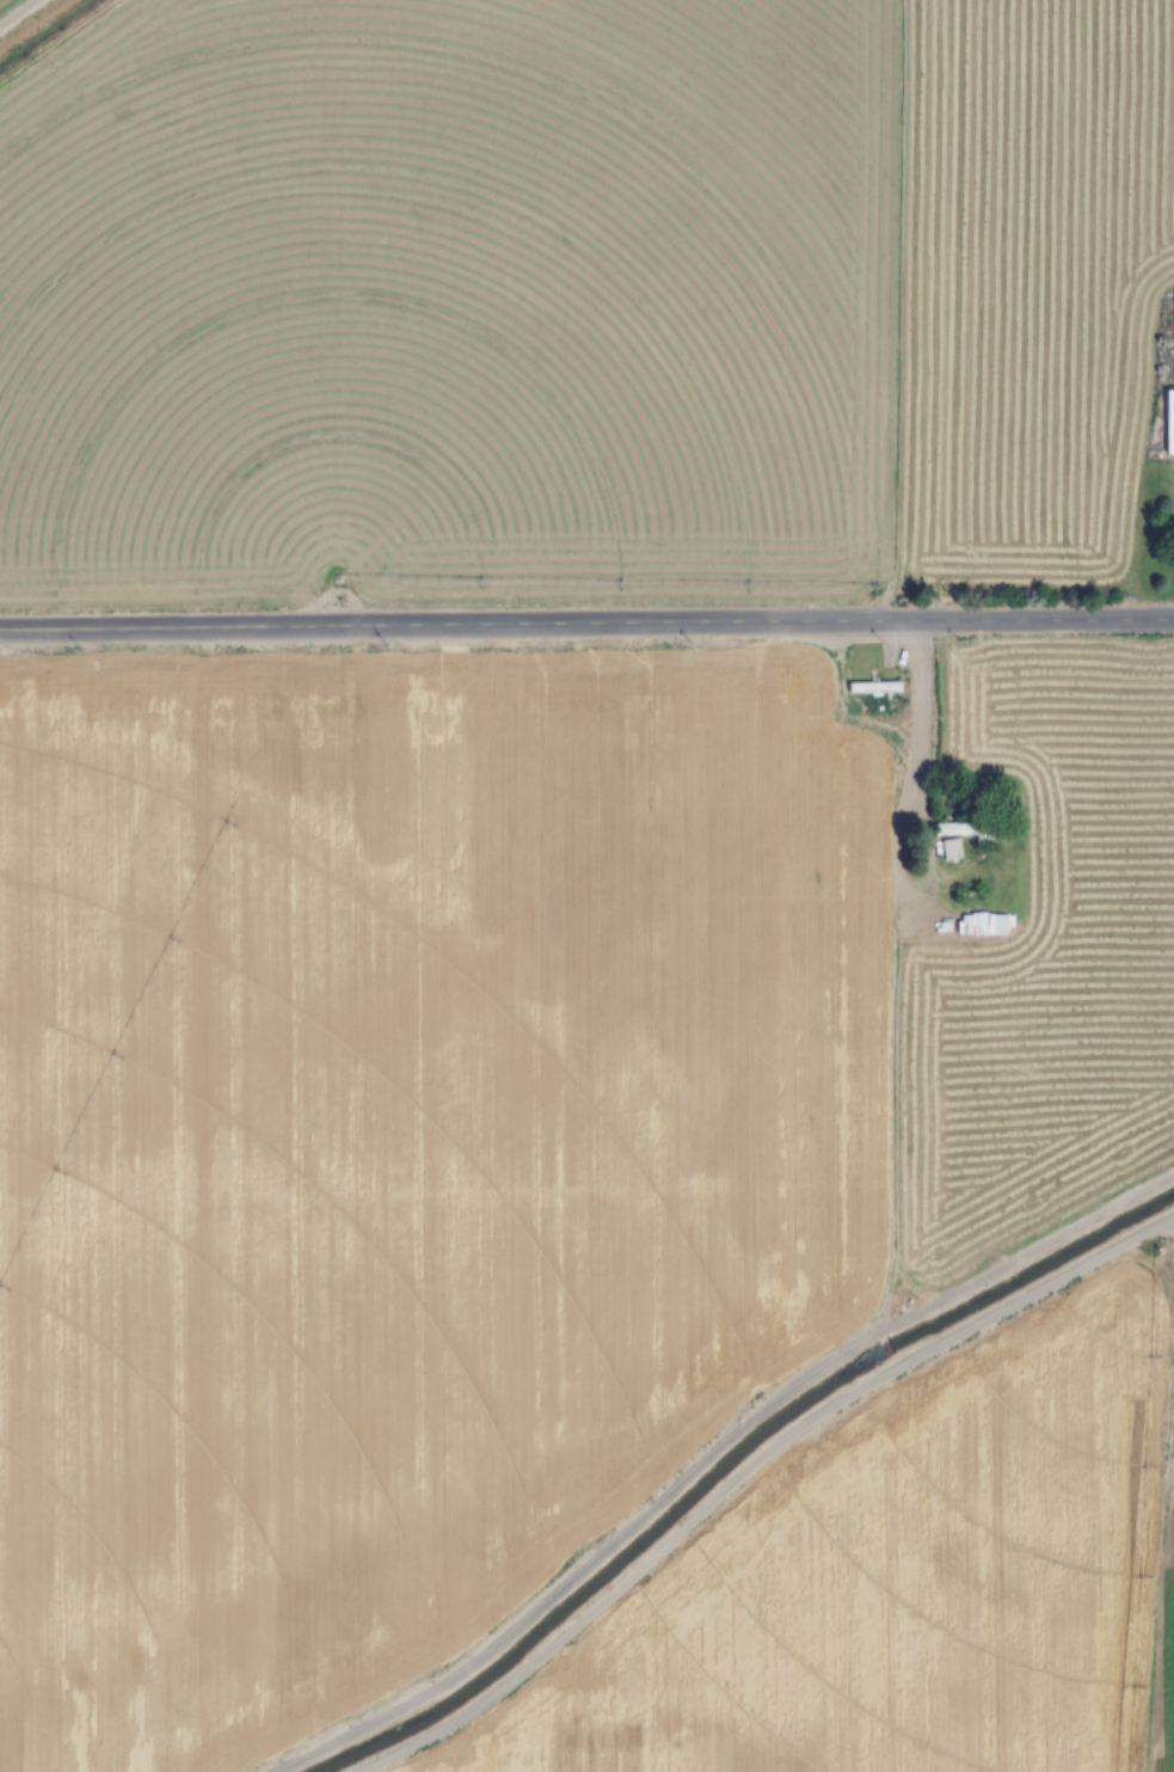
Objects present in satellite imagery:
building: (1173, 314)
building: (1169, 423)
road: (586, 625)
building: (873, 688)
building: (960, 838)
building: (982, 925)

